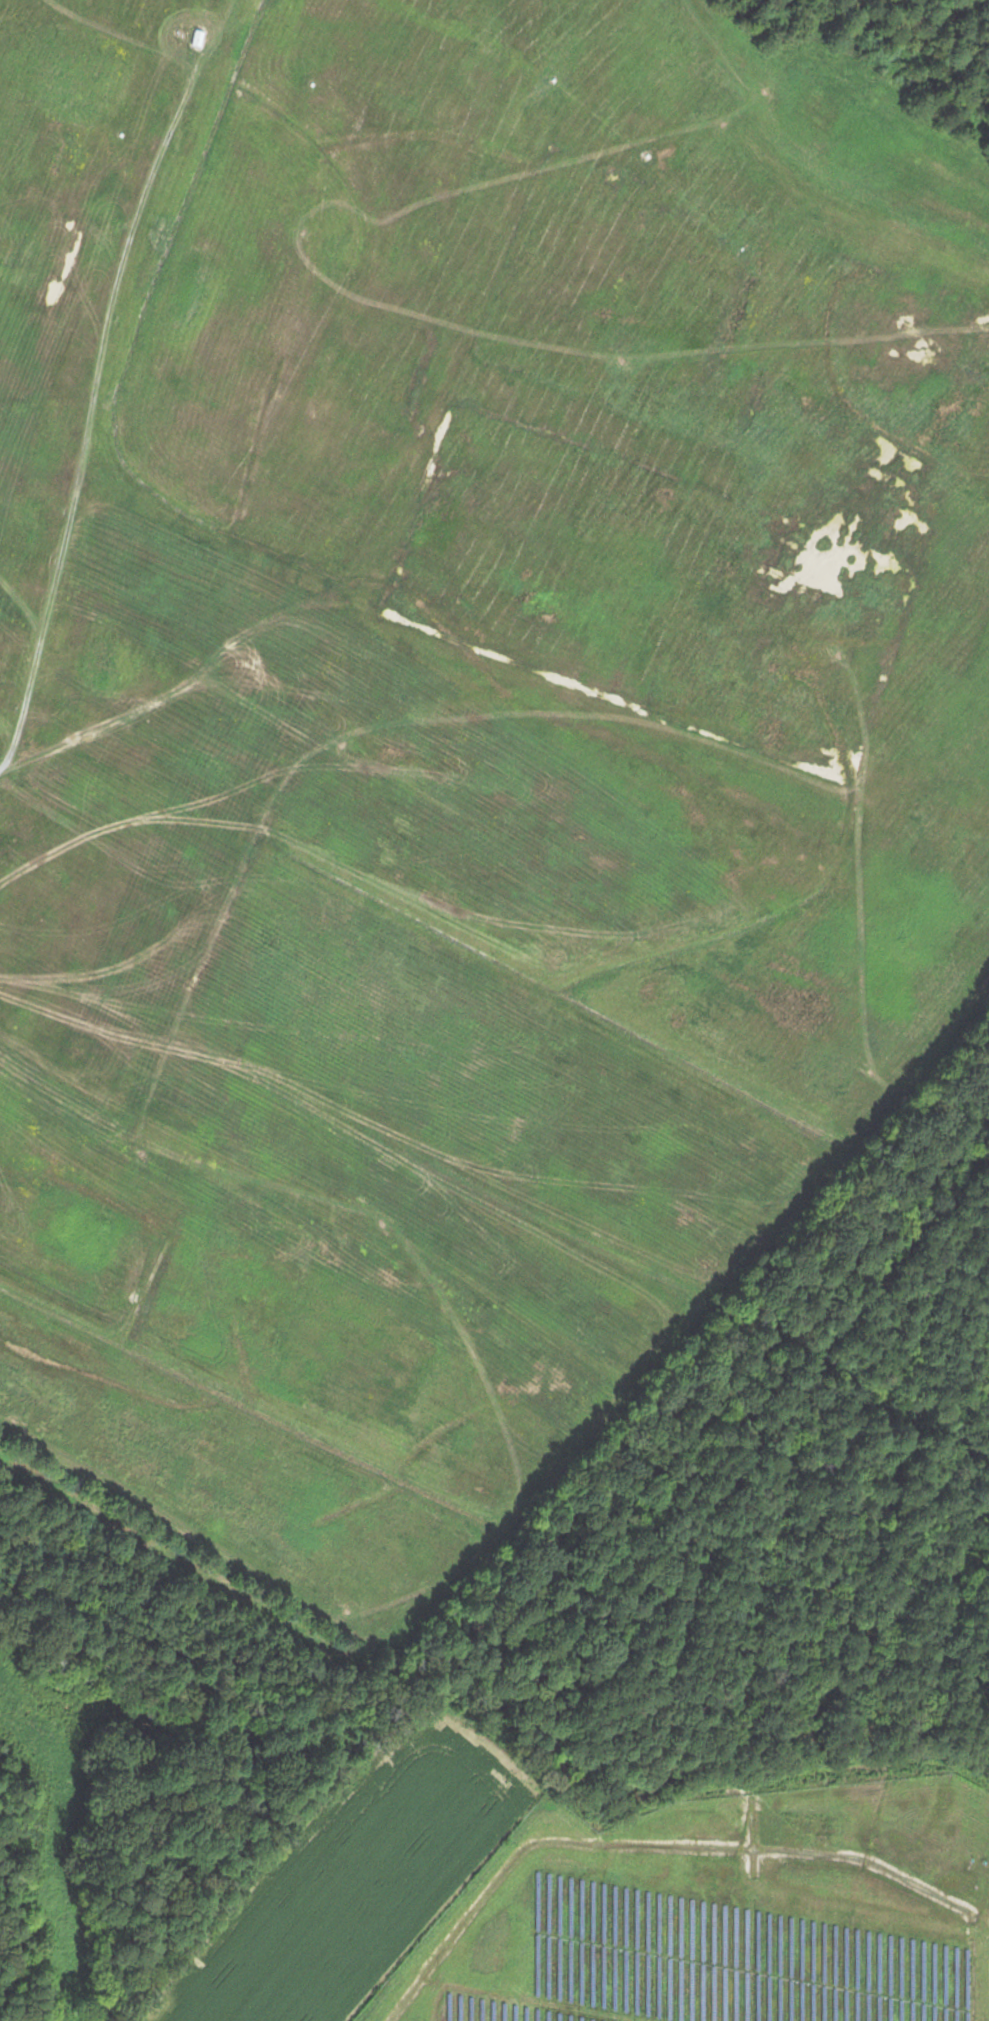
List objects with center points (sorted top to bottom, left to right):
building: (195, 40)

